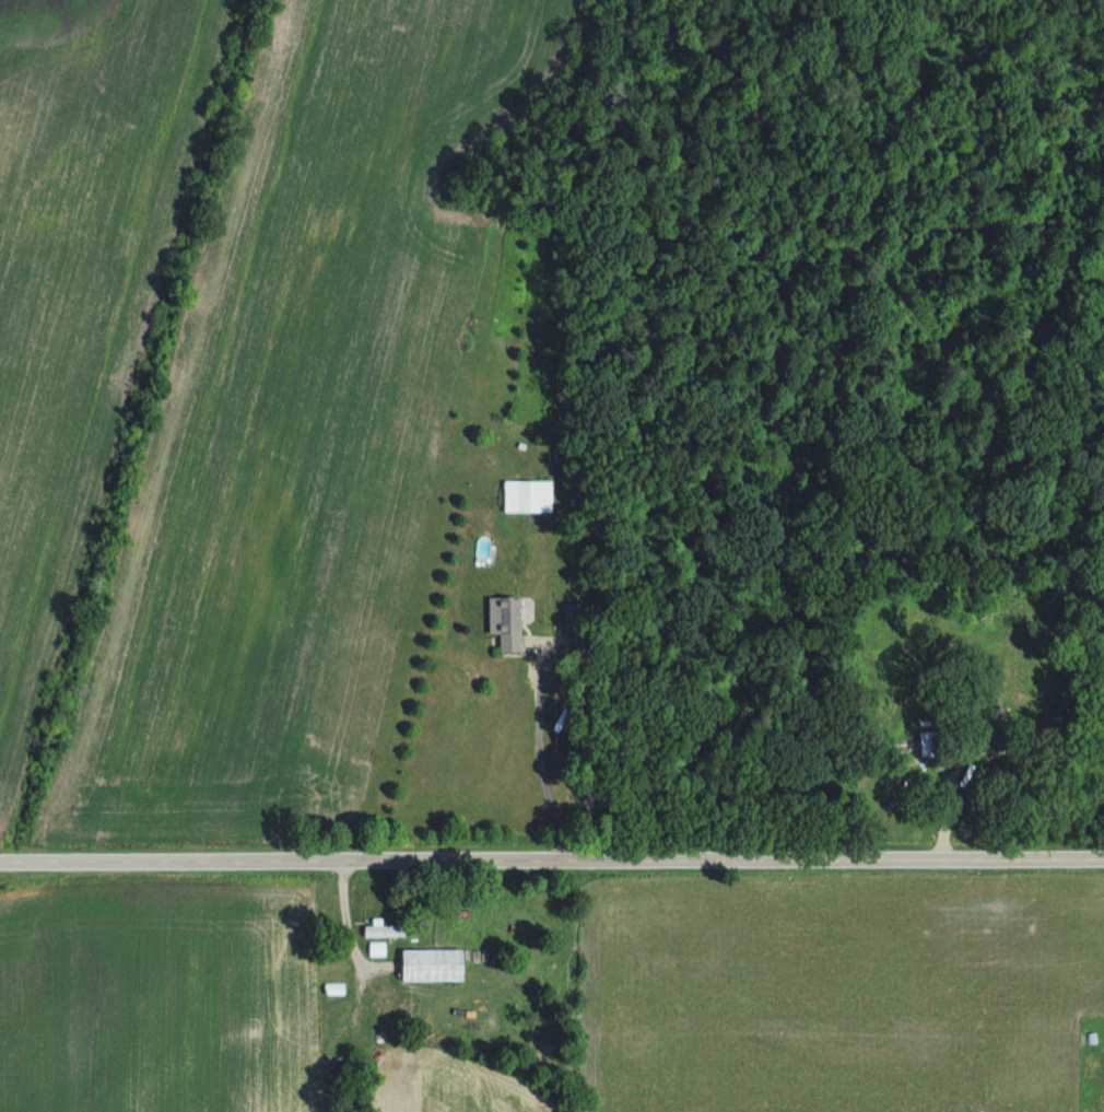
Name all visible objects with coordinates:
building: (533, 499)
building: (506, 627)
road: (535, 753)
road: (551, 856)
building: (385, 933)
building: (434, 967)

